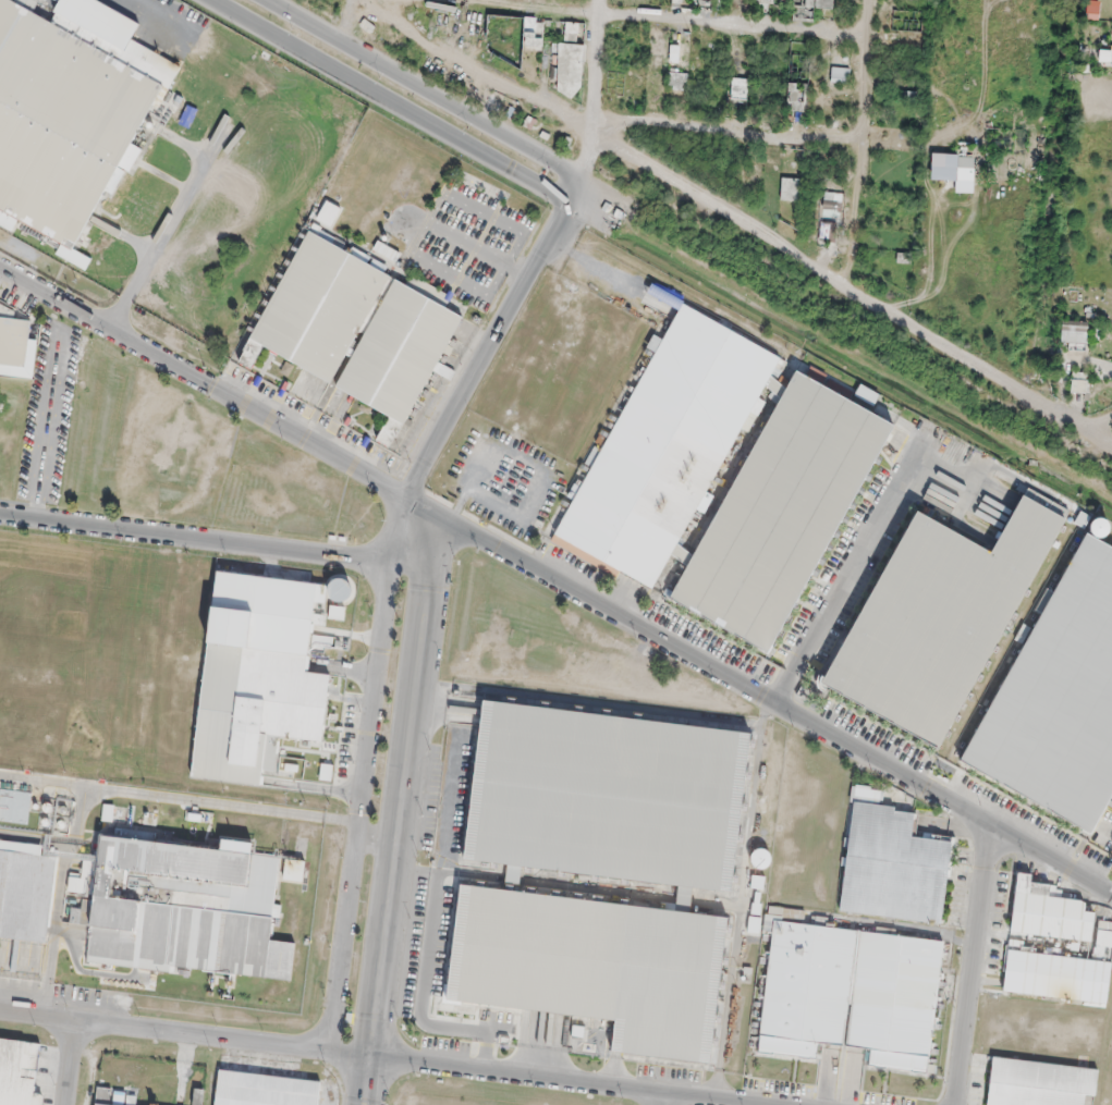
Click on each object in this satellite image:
building: (681, 0)
road: (618, 20)
road: (350, 22)
road: (598, 69)
building: (738, 83)
road: (424, 89)
road: (393, 103)
building: (70, 111)
road: (729, 134)
road: (596, 138)
road: (864, 142)
road: (517, 230)
road: (467, 245)
road: (517, 271)
building: (317, 308)
building: (400, 354)
road: (969, 363)
road: (52, 414)
road: (1104, 429)
building: (670, 444)
building: (782, 509)
road: (391, 573)
road: (851, 574)
road: (555, 581)
building: (939, 613)
building: (1060, 697)
building: (1053, 946)

